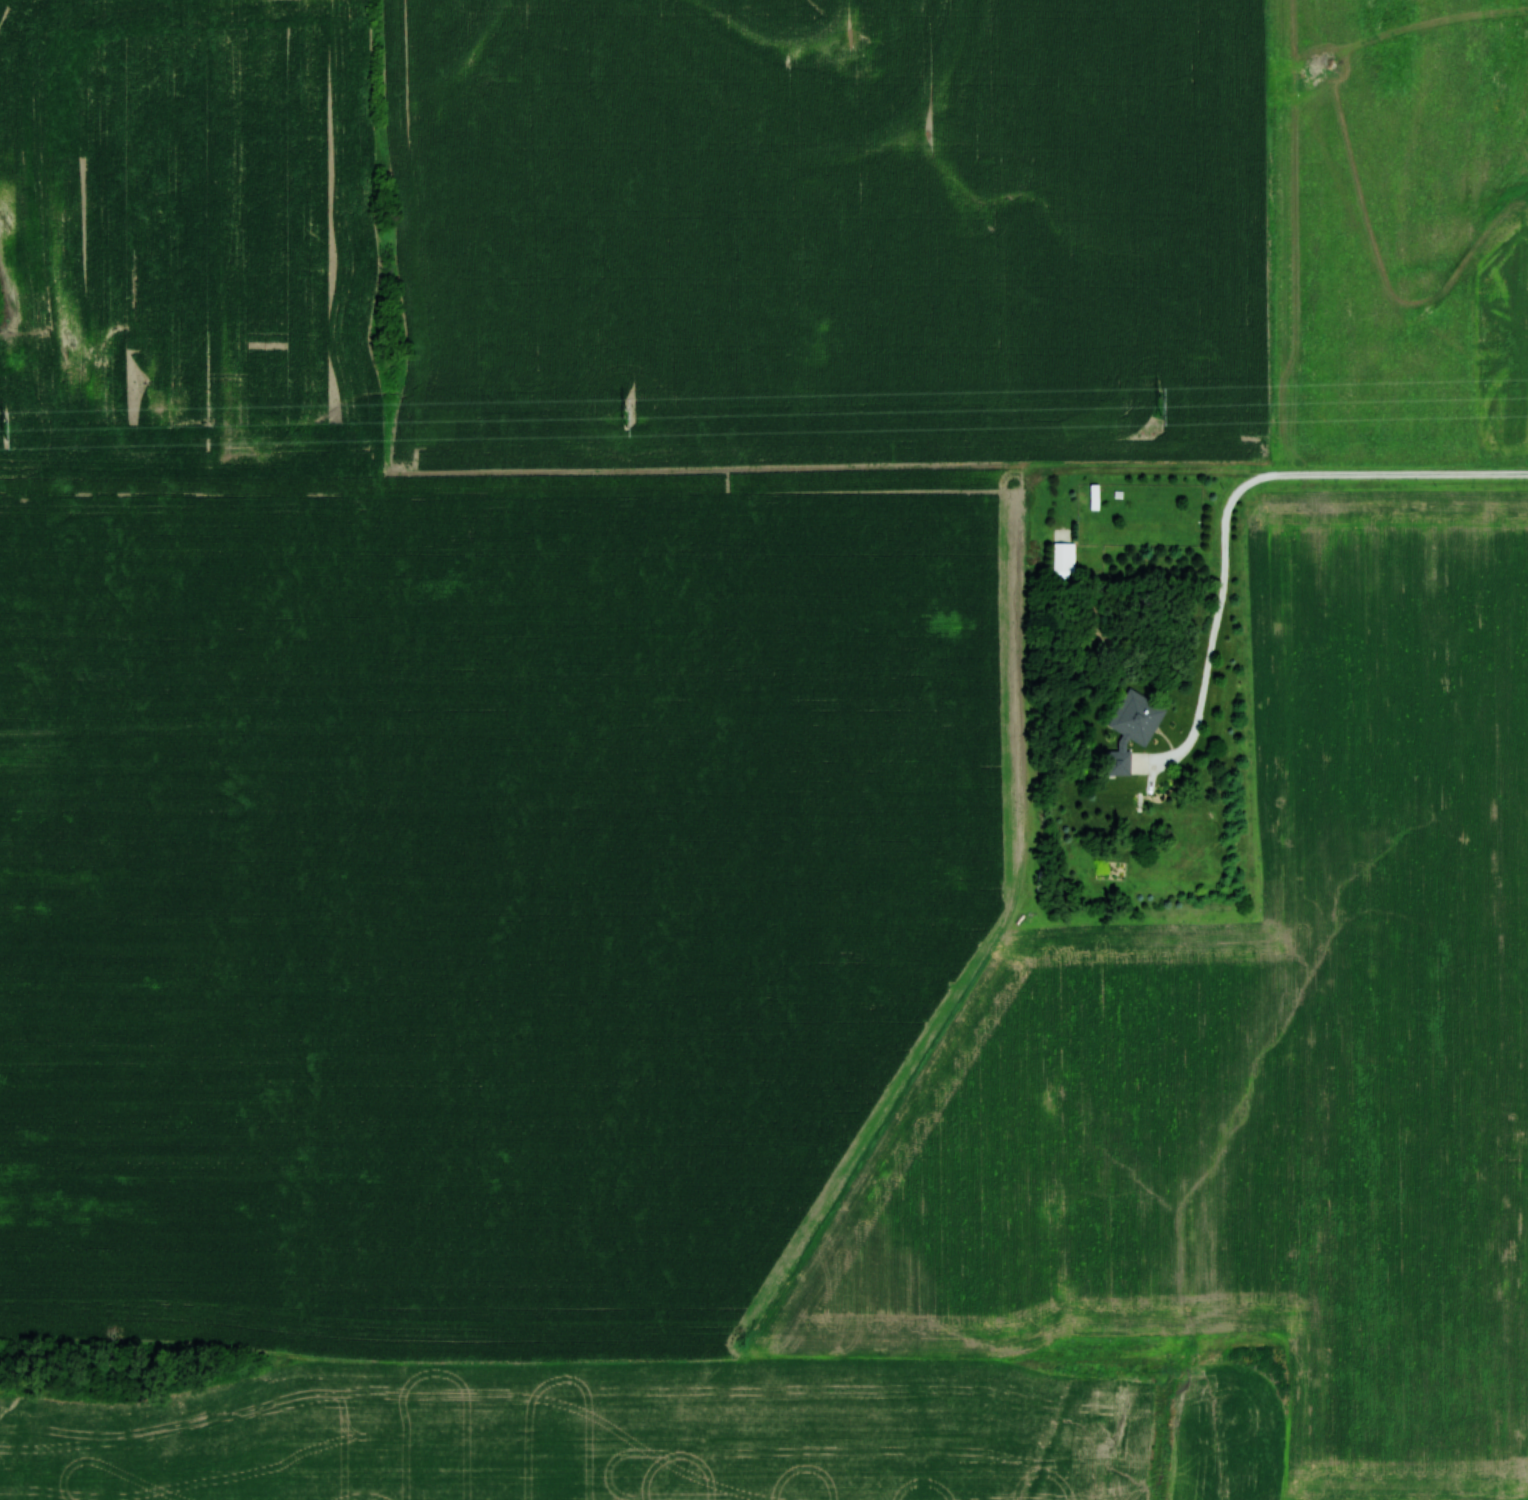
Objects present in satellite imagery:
power tower: (1159, 403)
power tower: (626, 413)
power tower: (5, 429)
building: (1064, 557)
building: (1133, 726)

